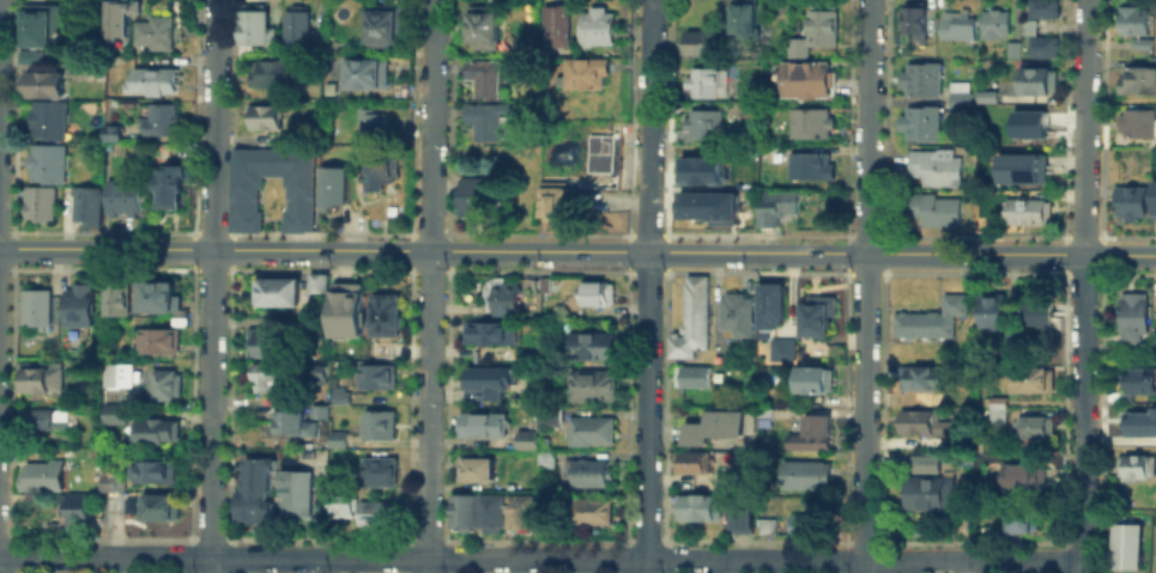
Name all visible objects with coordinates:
building: (1041, 7)
building: (740, 16)
building: (914, 16)
building: (115, 18)
building: (1128, 19)
building: (381, 20)
building: (483, 22)
building: (38, 23)
building: (553, 23)
building: (821, 23)
building: (992, 23)
building: (295, 24)
building: (595, 24)
building: (1027, 24)
building: (252, 26)
building: (956, 26)
building: (153, 31)
building: (697, 42)
building: (1139, 43)
building: (316, 44)
building: (1041, 44)
building: (794, 45)
building: (1011, 49)
building: (25, 55)
building: (304, 63)
building: (276, 72)
building: (583, 72)
building: (367, 73)
building: (480, 74)
building: (805, 78)
building: (1136, 78)
building: (153, 79)
building: (919, 79)
building: (1036, 79)
building: (701, 80)
building: (42, 81)
building: (957, 86)
building: (329, 87)
building: (985, 96)
building: (957, 100)
building: (265, 115)
building: (369, 117)
building: (46, 118)
building: (157, 118)
building: (1031, 118)
building: (483, 120)
building: (806, 121)
building: (919, 121)
building: (698, 122)
building: (1136, 122)
road: (0, 123)
road: (648, 126)
road: (1084, 126)
building: (110, 130)
building: (762, 152)
building: (44, 160)
building: (807, 164)
building: (932, 166)
building: (1019, 166)
building: (700, 169)
building: (380, 170)
building: (339, 182)
building: (165, 184)
building: (302, 191)
building: (474, 195)
building: (122, 196)
building: (1155, 196)
building: (551, 197)
building: (37, 201)
building: (1128, 201)
building: (708, 205)
building: (774, 205)
building: (84, 206)
building: (933, 208)
building: (1023, 209)
road: (322, 249)
road: (865, 252)
road: (1119, 254)
road: (211, 278)
road: (429, 279)
road: (864, 279)
building: (316, 281)
building: (543, 282)
building: (276, 291)
building: (597, 292)
building: (156, 294)
building: (116, 297)
building: (504, 297)
building: (80, 303)
building: (769, 304)
building: (345, 305)
building: (35, 307)
building: (991, 310)
building: (734, 312)
building: (1035, 312)
building: (385, 315)
building: (817, 317)
building: (930, 317)
building: (1133, 317)
building: (691, 318)
building: (486, 330)
building: (1010, 335)
building: (159, 339)
building: (268, 341)
building: (589, 343)
building: (380, 347)
building: (779, 347)
building: (552, 366)
building: (116, 370)
building: (40, 374)
building: (376, 374)
building: (266, 376)
building: (690, 376)
building: (920, 376)
building: (810, 377)
building: (484, 378)
building: (1031, 378)
building: (1138, 378)
building: (591, 383)
building: (164, 384)
building: (339, 396)
road: (646, 404)
building: (994, 406)
road: (1082, 407)
building: (319, 410)
building: (759, 410)
building: (115, 412)
building: (547, 414)
building: (44, 417)
building: (916, 419)
building: (377, 421)
building: (1139, 421)
building: (292, 422)
building: (480, 422)
building: (714, 423)
building: (942, 423)
building: (1030, 425)
building: (156, 427)
building: (589, 429)
building: (810, 433)
building: (337, 437)
building: (523, 438)
building: (541, 439)
building: (545, 457)
building: (690, 461)
building: (921, 461)
building: (1138, 464)
building: (476, 468)
building: (152, 469)
building: (381, 469)
building: (588, 471)
building: (804, 473)
building: (1016, 473)
building: (43, 474)
building: (108, 480)
building: (253, 487)
building: (927, 490)
building: (297, 493)
building: (340, 499)
building: (109, 501)
building: (152, 505)
building: (697, 505)
building: (464, 508)
building: (491, 508)
building: (519, 508)
building: (74, 510)
building: (593, 510)
building: (376, 511)
building: (740, 516)
building: (1019, 516)
building: (800, 523)
building: (767, 525)
building: (1154, 542)
building: (1126, 544)
road: (104, 556)
road: (428, 557)
road: (863, 559)
road: (208, 565)
road: (425, 565)
road: (644, 566)
road: (725, 566)
road: (863, 566)
road: (1081, 566)

